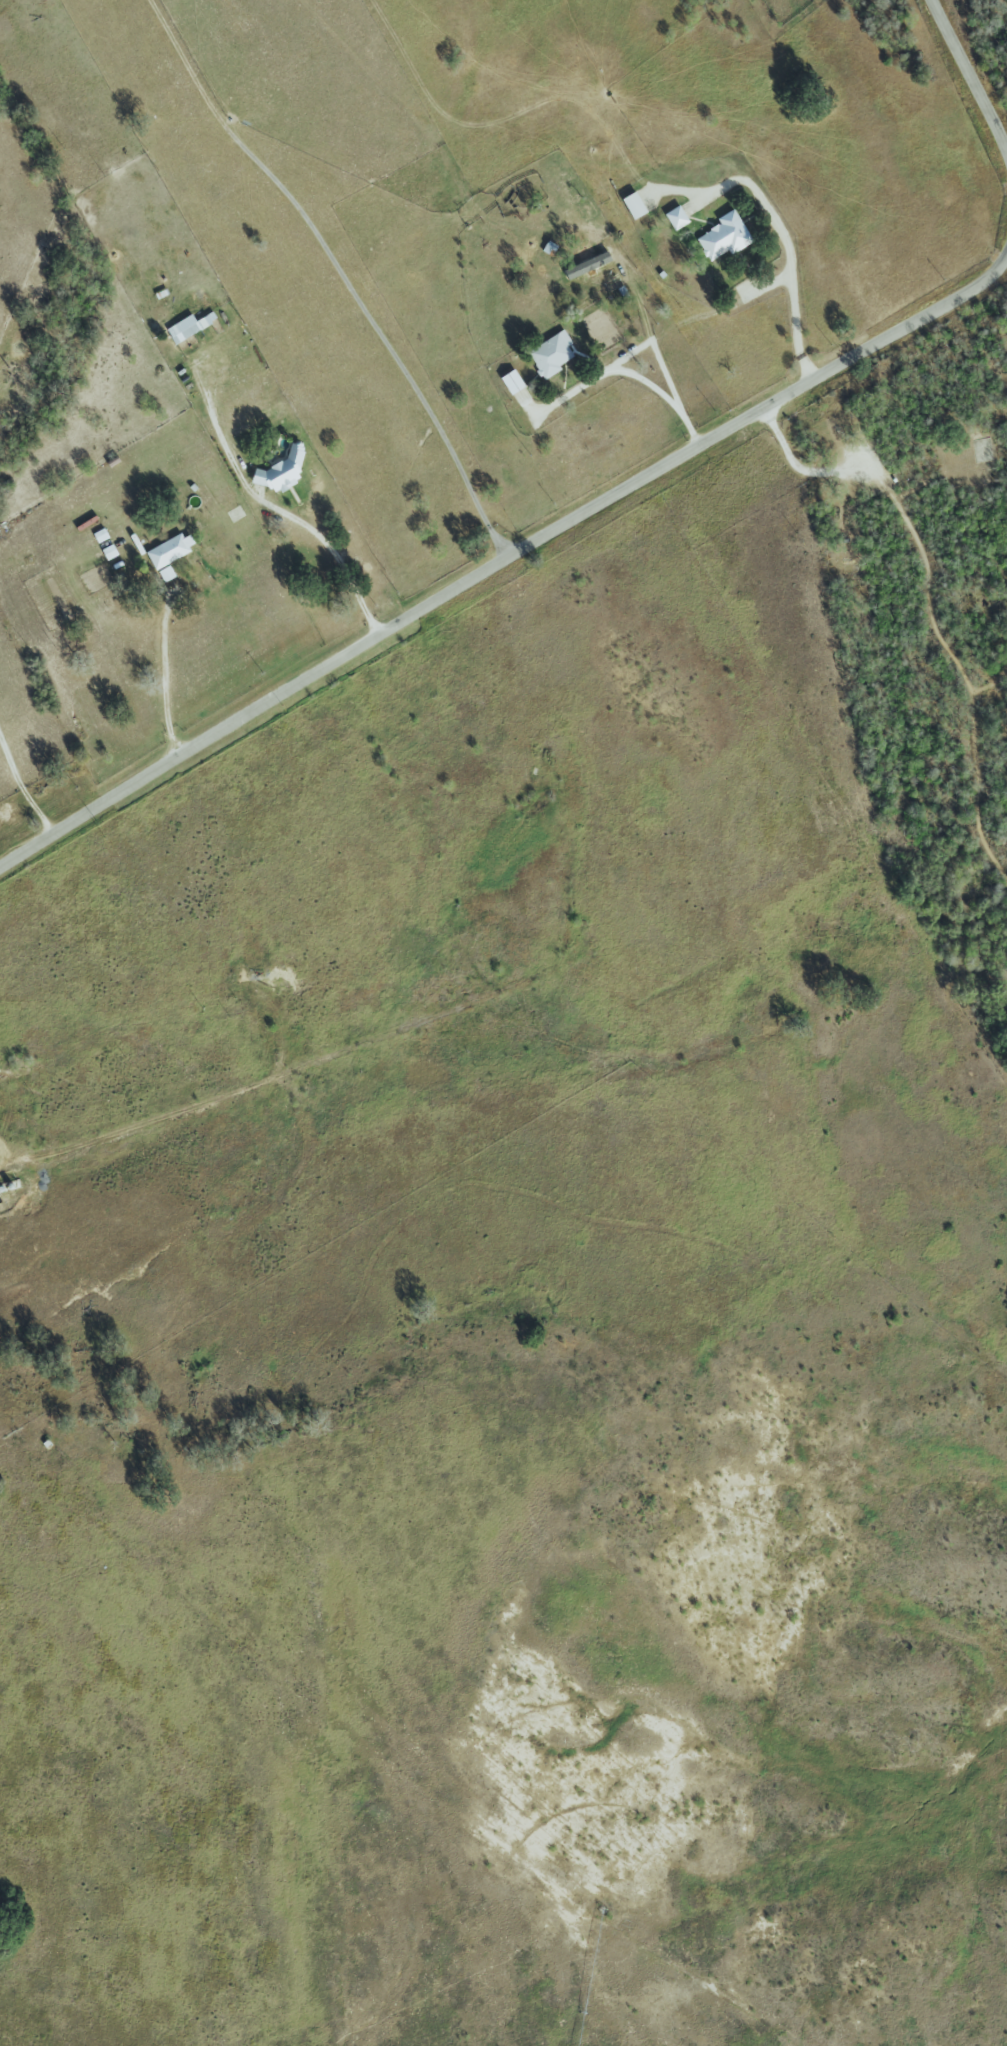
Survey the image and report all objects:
road: (969, 79)
building: (632, 205)
building: (675, 217)
building: (723, 236)
road: (339, 270)
road: (791, 289)
building: (185, 327)
building: (550, 354)
road: (633, 373)
building: (510, 381)
building: (279, 471)
road: (294, 485)
building: (169, 550)
road: (505, 558)
building: (165, 573)
road: (164, 676)
road: (22, 787)

